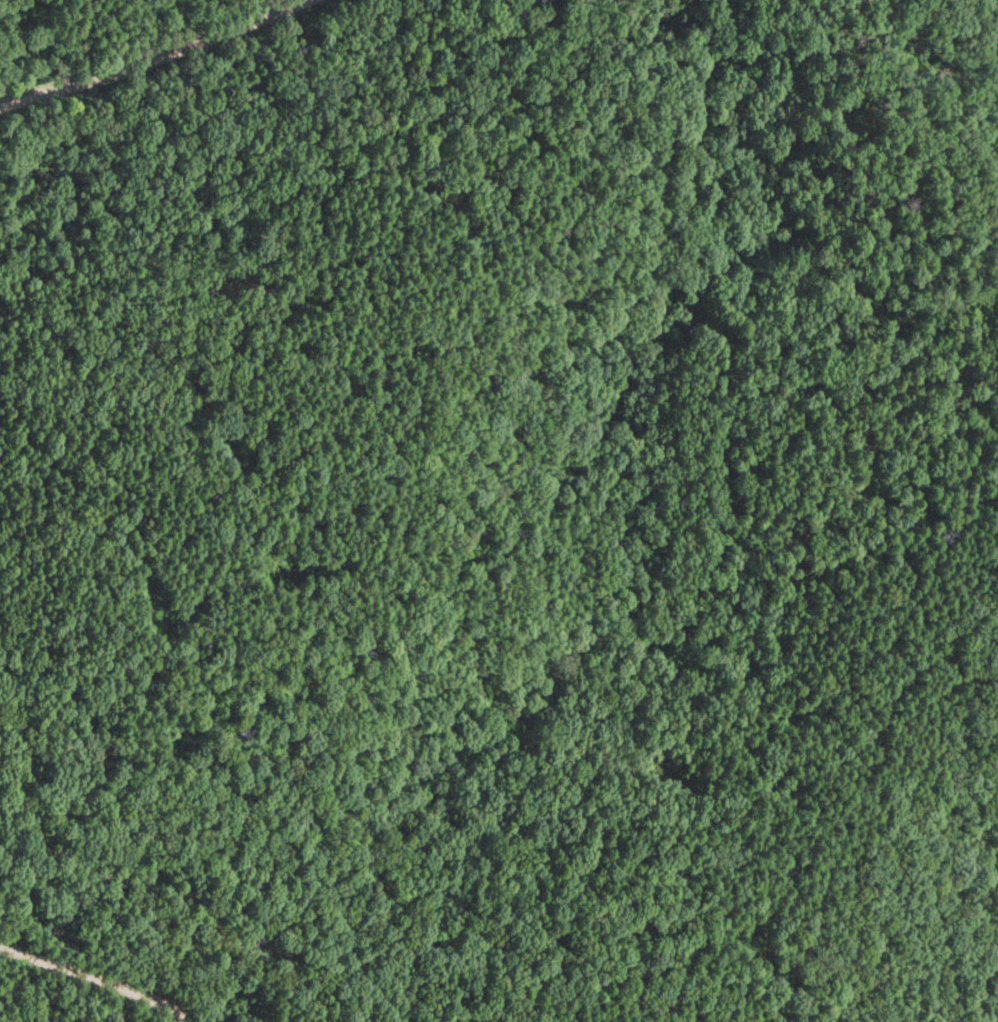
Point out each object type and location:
road: (170, 62)
road: (95, 982)

